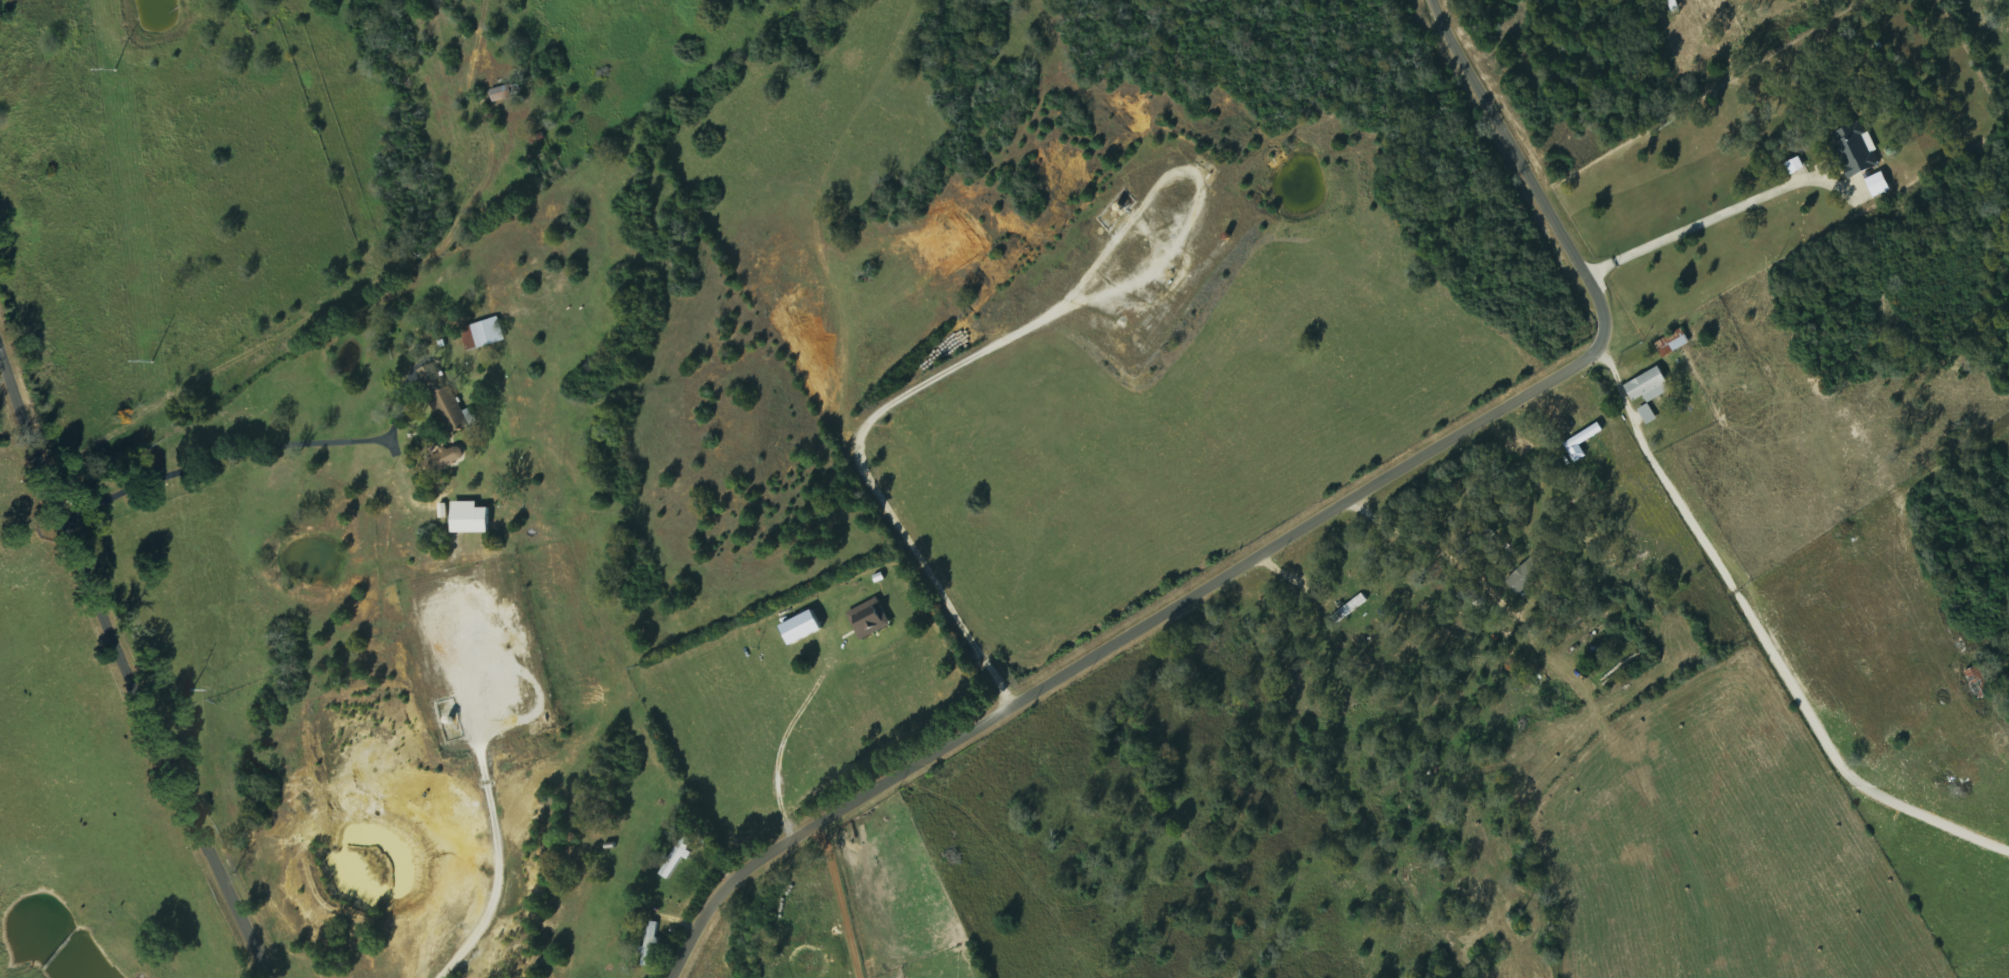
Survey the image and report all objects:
power tower: (114, 69)
building: (503, 94)
building: (1858, 150)
building: (1797, 166)
building: (1880, 184)
building: (485, 334)
building: (1673, 343)
power tower: (151, 361)
building: (1650, 386)
building: (1649, 414)
road: (20, 426)
building: (1583, 442)
building: (445, 460)
building: (444, 511)
building: (471, 518)
road: (1284, 540)
building: (1527, 576)
building: (1351, 609)
building: (870, 619)
building: (1574, 619)
building: (803, 628)
road: (1765, 640)
building: (1979, 683)
power tower: (192, 689)
road: (154, 735)
building: (678, 858)
building: (651, 944)

